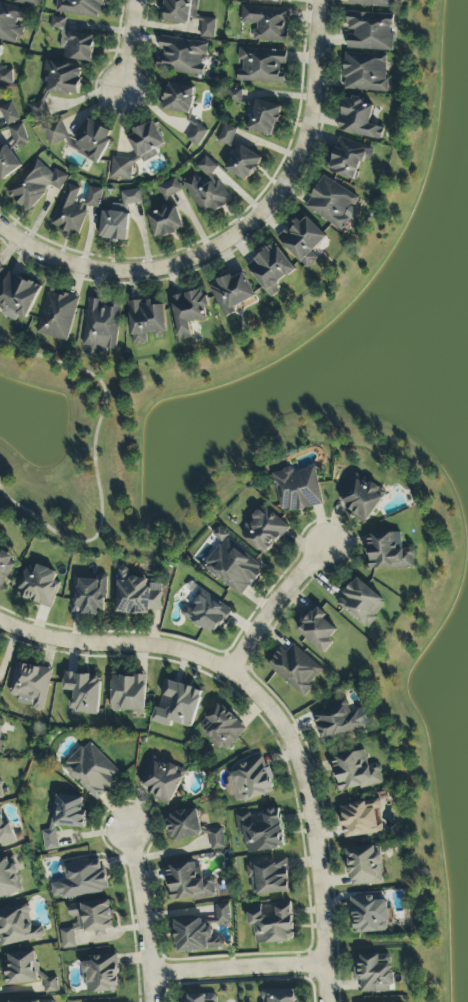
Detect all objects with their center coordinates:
building: (276, 0)
building: (27, 2)
building: (373, 3)
building: (81, 7)
building: (181, 11)
building: (9, 23)
building: (267, 23)
building: (207, 28)
building: (370, 32)
building: (74, 42)
road: (126, 46)
building: (182, 56)
building: (261, 66)
building: (365, 73)
building: (5, 76)
building: (63, 78)
building: (235, 96)
building: (178, 98)
building: (39, 111)
building: (9, 114)
building: (264, 118)
building: (358, 119)
building: (55, 133)
building: (18, 135)
building: (196, 135)
building: (227, 136)
building: (93, 141)
building: (146, 142)
building: (347, 158)
building: (244, 162)
building: (7, 163)
building: (206, 166)
building: (120, 169)
building: (35, 185)
building: (206, 194)
road: (273, 200)
building: (332, 203)
building: (74, 209)
building: (166, 213)
building: (118, 218)
building: (303, 241)
road: (39, 253)
building: (1, 266)
building: (271, 269)
building: (231, 293)
building: (17, 297)
building: (188, 312)
building: (57, 316)
building: (146, 320)
building: (101, 326)
road: (96, 462)
building: (297, 490)
building: (360, 498)
building: (263, 530)
building: (388, 552)
building: (233, 566)
building: (4, 568)
building: (38, 586)
building: (135, 595)
building: (88, 596)
building: (361, 603)
road: (277, 608)
building: (206, 614)
building: (316, 629)
building: (295, 669)
building: (31, 684)
building: (83, 692)
building: (128, 694)
road: (264, 697)
building: (178, 705)
building: (338, 722)
building: (221, 728)
building: (0, 729)
building: (92, 771)
building: (355, 772)
building: (251, 779)
building: (161, 780)
building: (1, 791)
building: (64, 818)
building: (361, 819)
building: (184, 825)
building: (261, 831)
building: (6, 833)
building: (216, 839)
building: (364, 867)
building: (268, 877)
building: (9, 879)
building: (80, 880)
building: (188, 883)
road: (140, 912)
building: (222, 914)
building: (369, 915)
building: (87, 921)
building: (272, 923)
building: (17, 926)
building: (194, 936)
building: (21, 968)
road: (238, 970)
building: (101, 974)
building: (372, 975)
road: (326, 984)
building: (50, 985)
building: (279, 995)
building: (192, 999)
building: (43, 1001)
building: (373, 1001)

